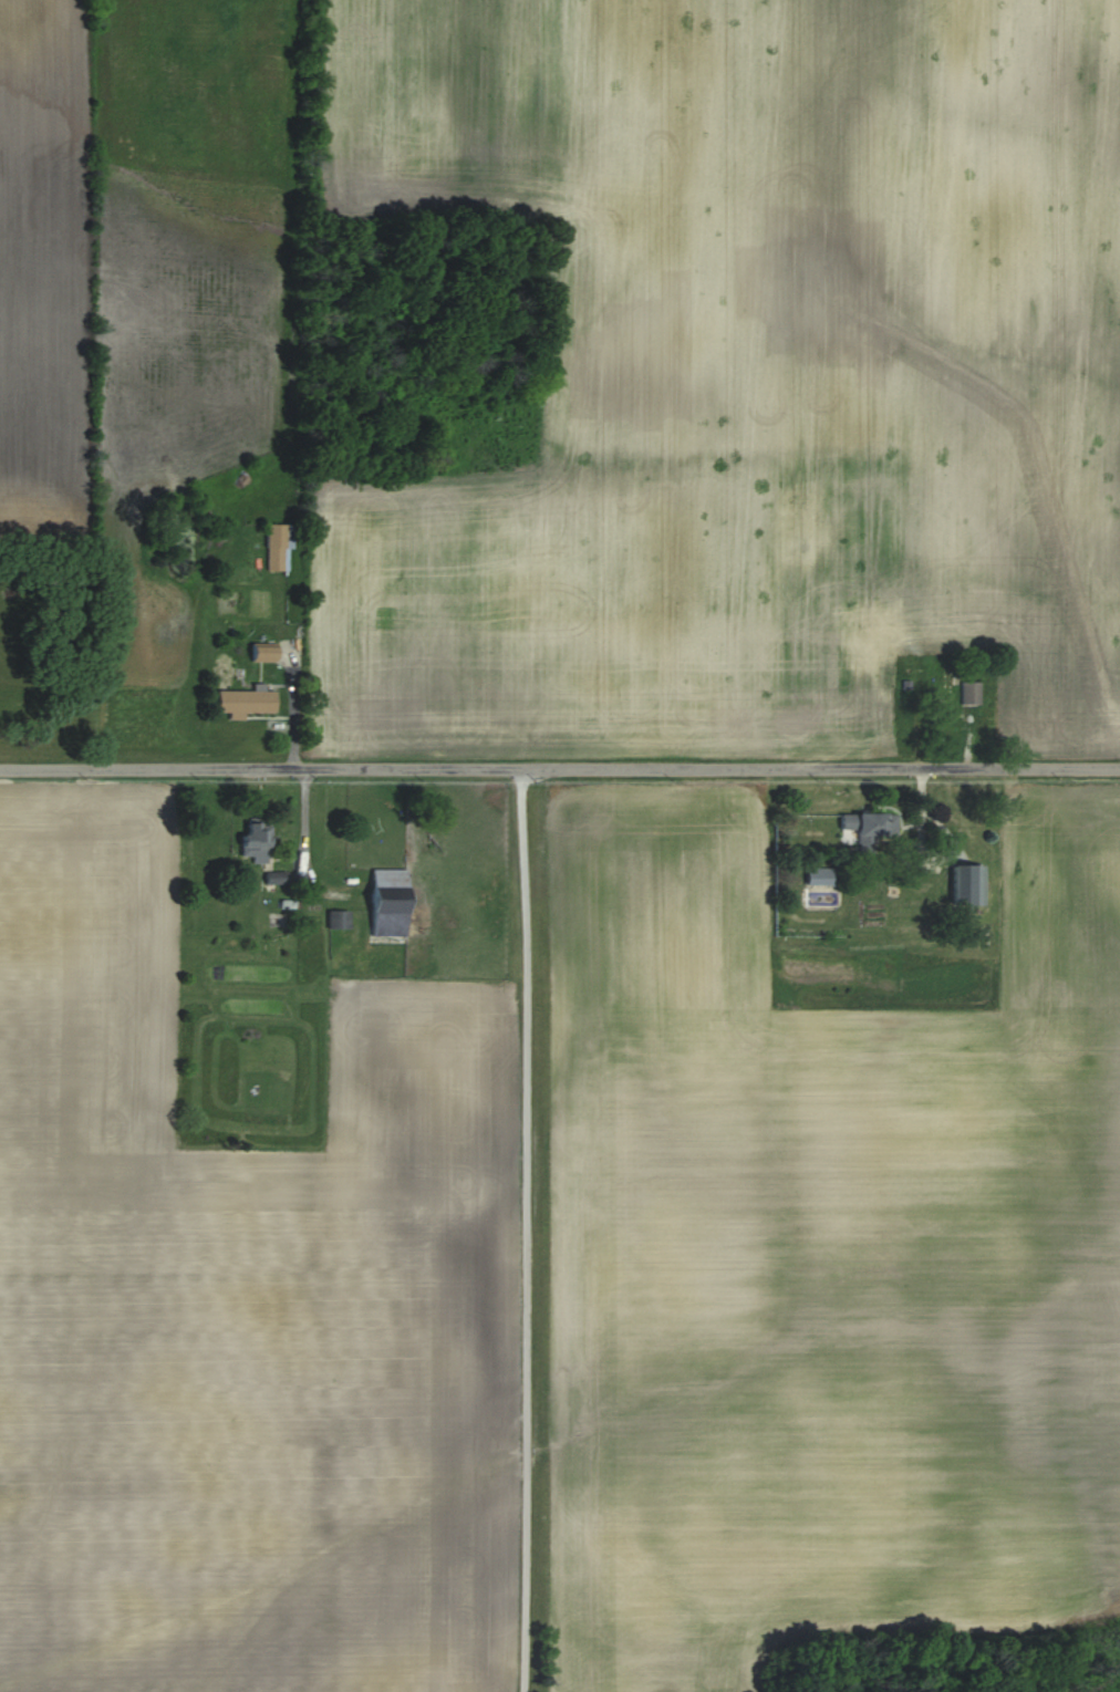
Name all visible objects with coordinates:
building: (276, 547)
building: (260, 654)
building: (946, 684)
building: (968, 693)
building: (245, 702)
road: (559, 769)
building: (868, 828)
building: (253, 842)
building: (820, 876)
building: (386, 879)
building: (964, 884)
building: (385, 917)
road: (527, 1231)

